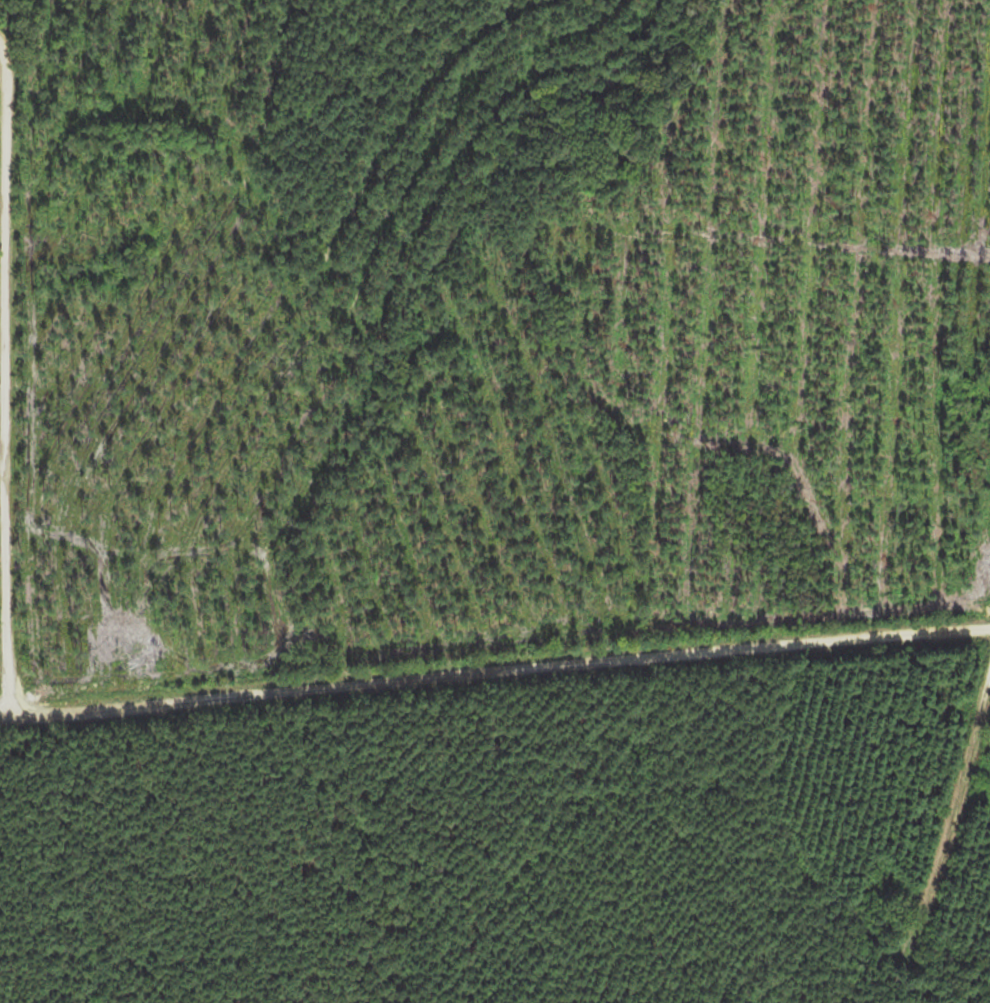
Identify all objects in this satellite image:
road: (495, 704)

